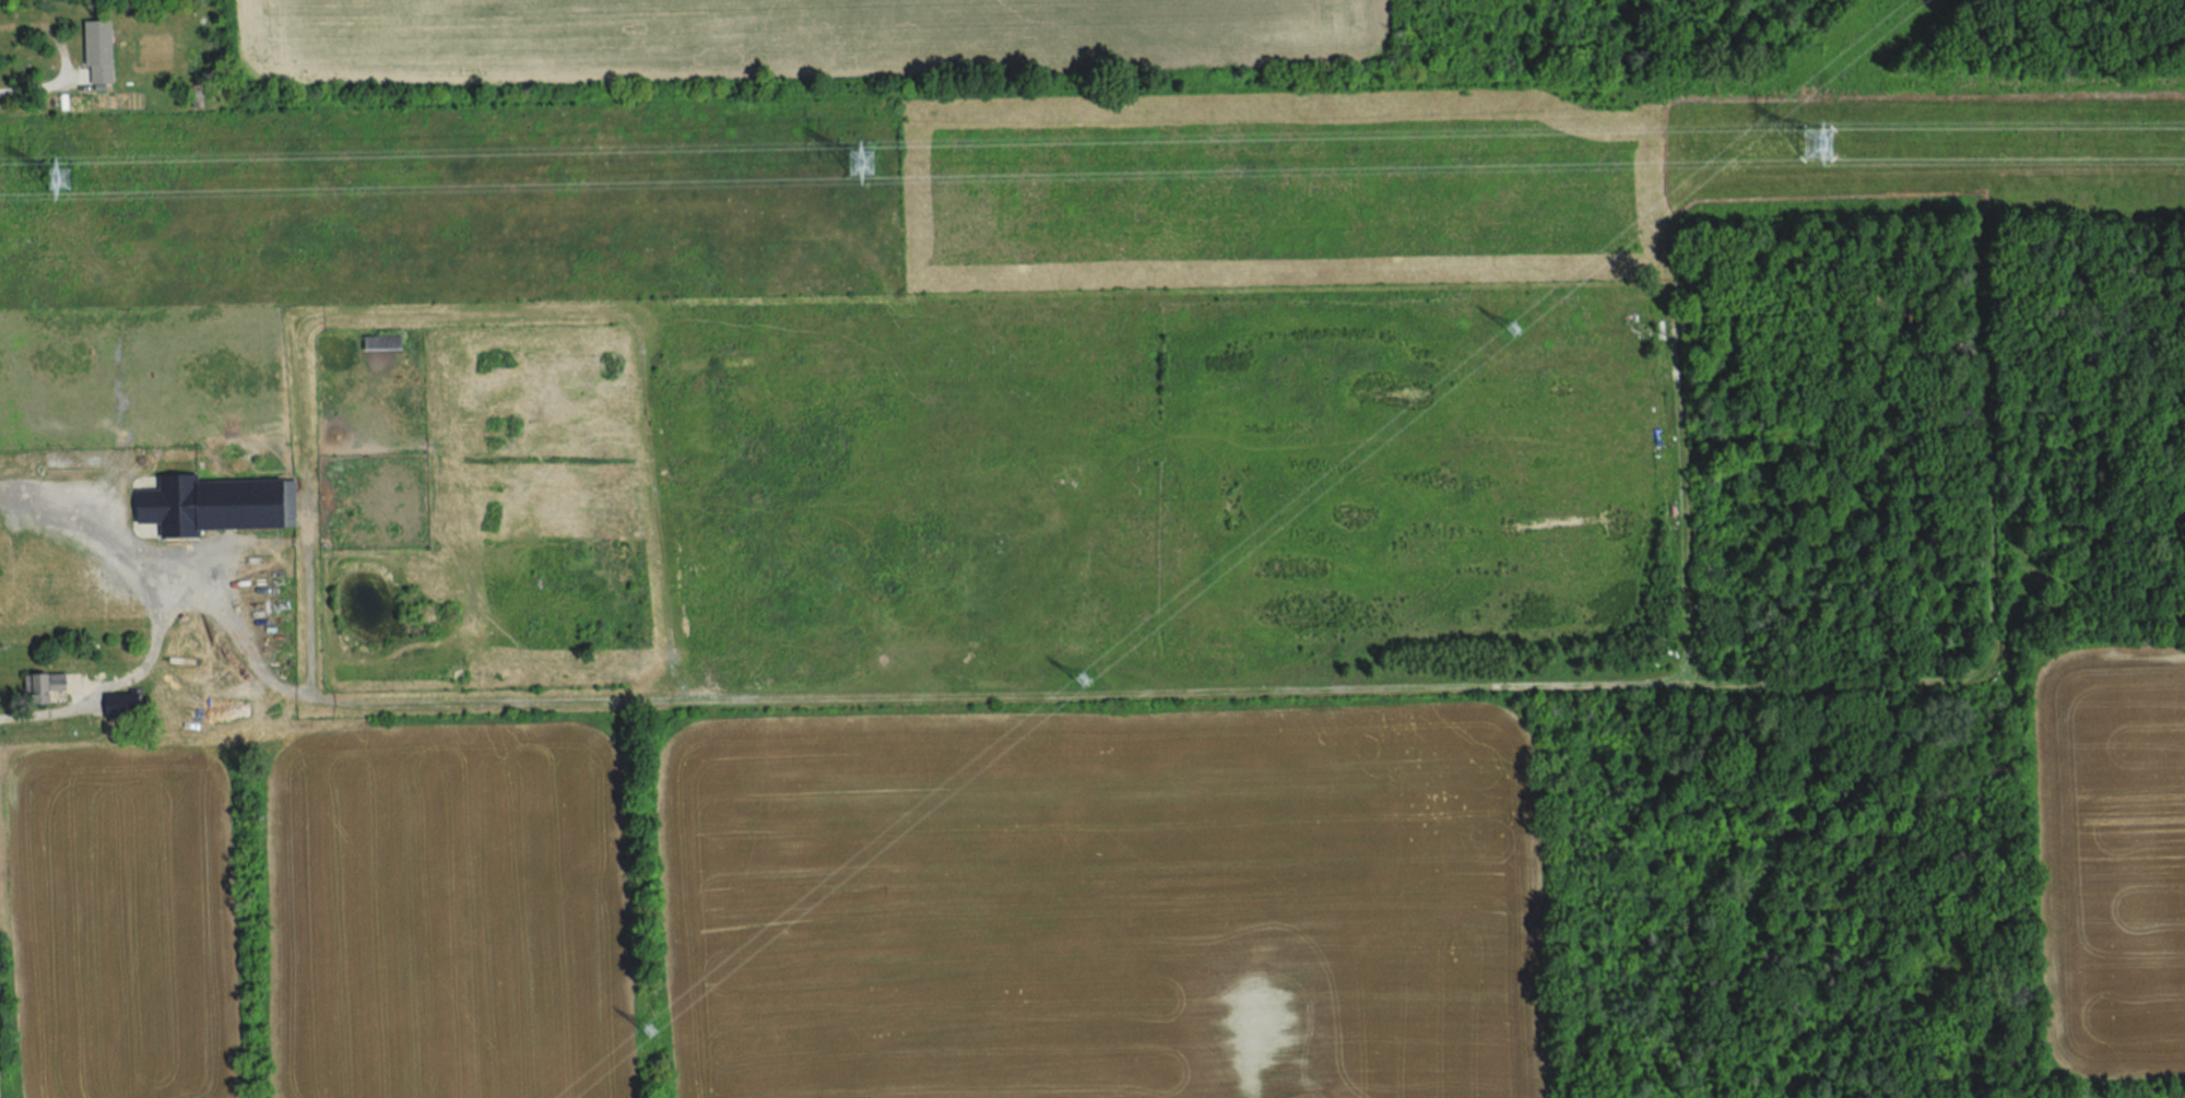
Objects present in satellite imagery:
crop: (792, 33)
building: (104, 72)
road: (37, 90)
power tower: (1811, 151)
power tower: (866, 170)
power tower: (66, 184)
power tower: (1510, 334)
building: (389, 341)
crop: (1041, 480)
building: (221, 504)
road: (156, 618)
building: (187, 672)
power tower: (1083, 681)
crop: (2113, 862)
crop: (1101, 905)
crop: (449, 913)
crop: (125, 922)
power tower: (657, 1029)

